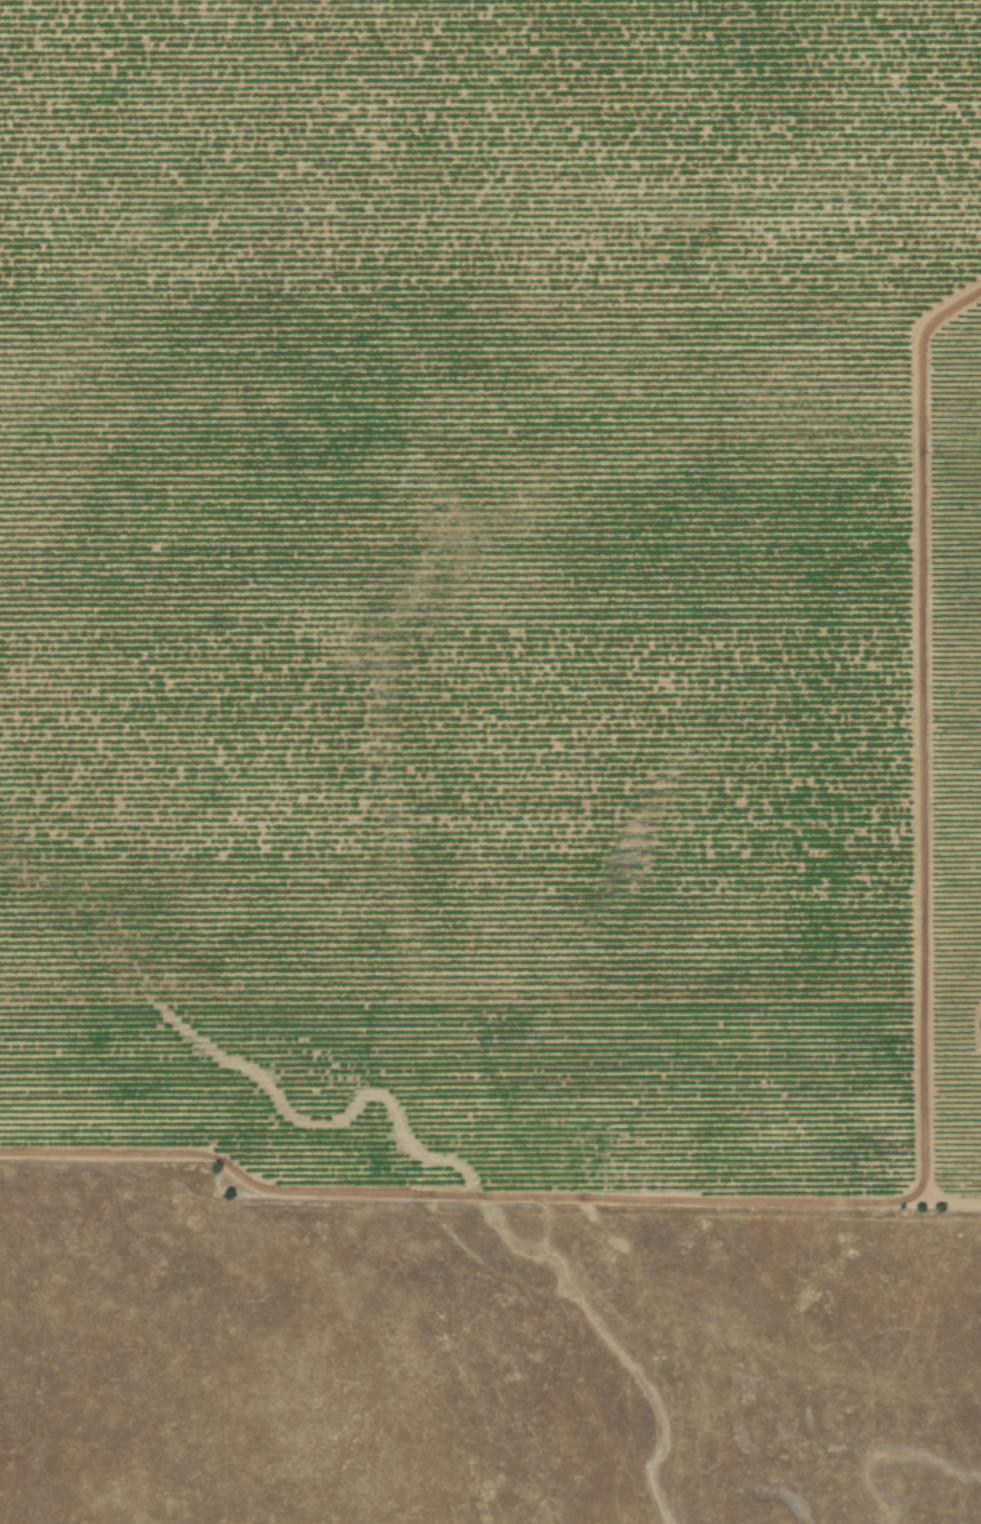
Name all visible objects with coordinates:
road: (94, 1148)

